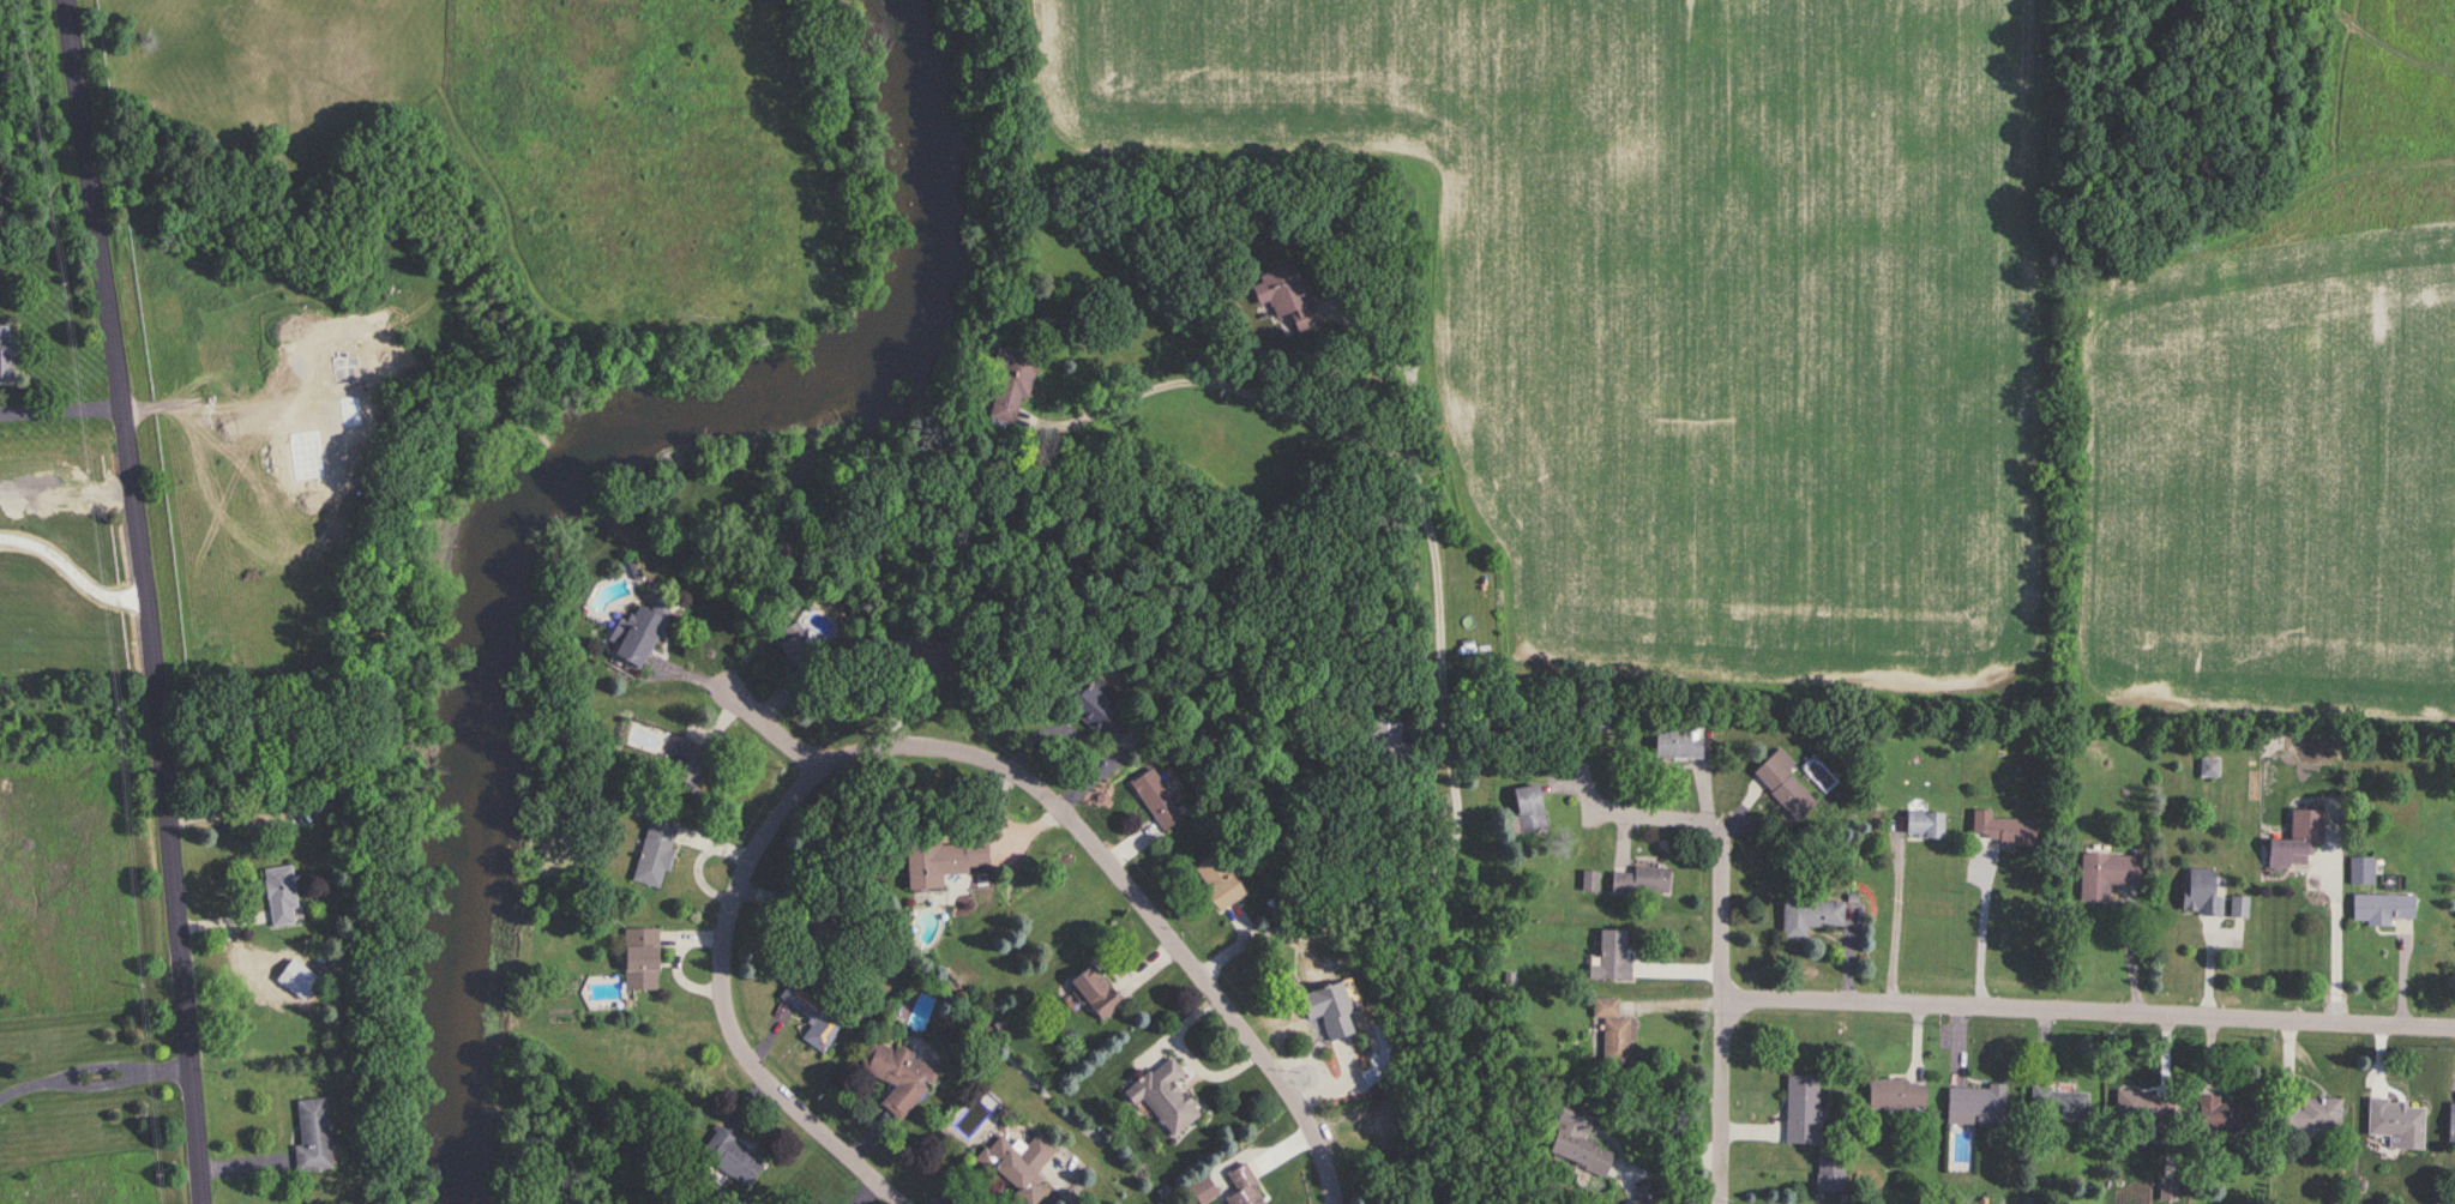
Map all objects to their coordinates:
park: (1713, 276)
building: (2, 354)
building: (1010, 384)
road: (60, 386)
road: (1099, 410)
river: (546, 482)
road: (73, 570)
road: (150, 600)
building: (633, 637)
building: (793, 642)
road: (1434, 646)
building: (925, 660)
building: (1093, 710)
building: (1385, 738)
building: (1680, 740)
building: (2209, 767)
building: (686, 770)
building: (1783, 783)
building: (1155, 801)
building: (317, 805)
building: (1528, 809)
building: (1925, 825)
building: (2002, 829)
building: (2295, 842)
road: (1097, 844)
building: (655, 853)
building: (941, 862)
building: (2363, 872)
building: (2106, 875)
building: (1214, 880)
building: (1642, 883)
building: (2201, 895)
building: (275, 897)
building: (2239, 908)
building: (2383, 909)
road: (1887, 910)
building: (1810, 917)
road: (2327, 921)
road: (1975, 929)
road: (1715, 946)
building: (1611, 958)
building: (638, 961)
building: (1093, 994)
road: (2086, 1005)
road: (728, 1009)
building: (1330, 1009)
building: (814, 1017)
building: (1613, 1030)
road: (94, 1066)
building: (898, 1077)
building: (1895, 1095)
building: (1161, 1097)
building: (2058, 1106)
building: (1974, 1107)
building: (1801, 1110)
building: (2146, 1112)
building: (2222, 1115)
building: (2309, 1115)
building: (2395, 1125)
building: (2451, 1125)
building: (305, 1137)
building: (1577, 1139)
building: (730, 1158)
building: (1017, 1166)
building: (1828, 1173)
building: (1241, 1187)
building: (1647, 1196)

